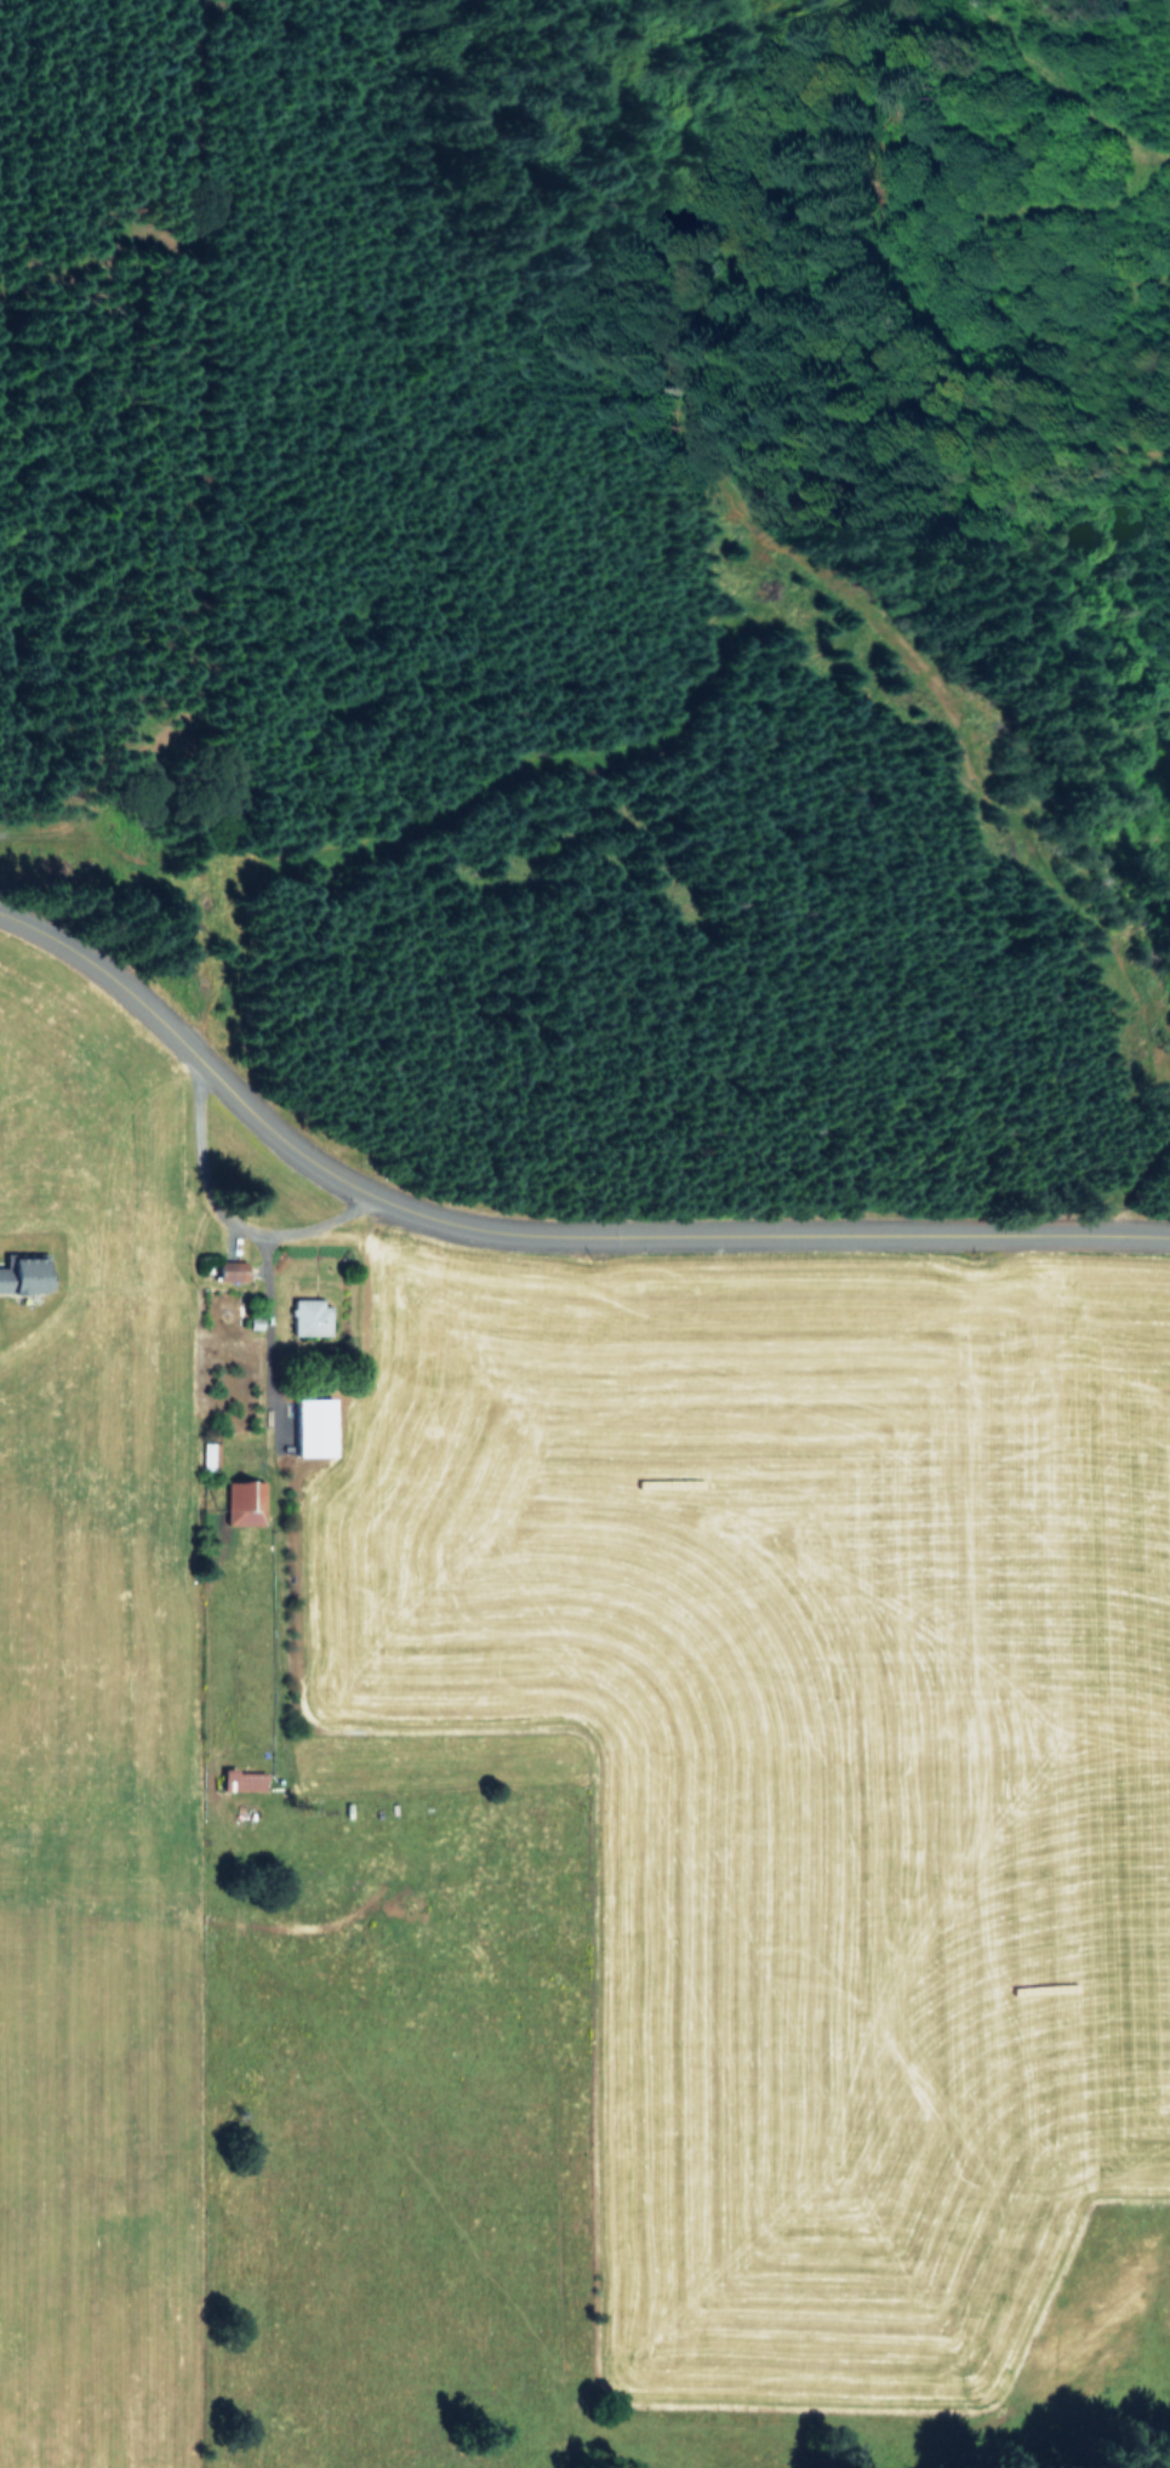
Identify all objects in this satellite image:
road: (1063, 89)
road: (223, 1215)
road: (531, 1239)
building: (233, 1270)
building: (23, 1275)
building: (310, 1317)
road: (268, 1335)
building: (314, 1426)
building: (240, 1505)
crop: (550, 1824)

